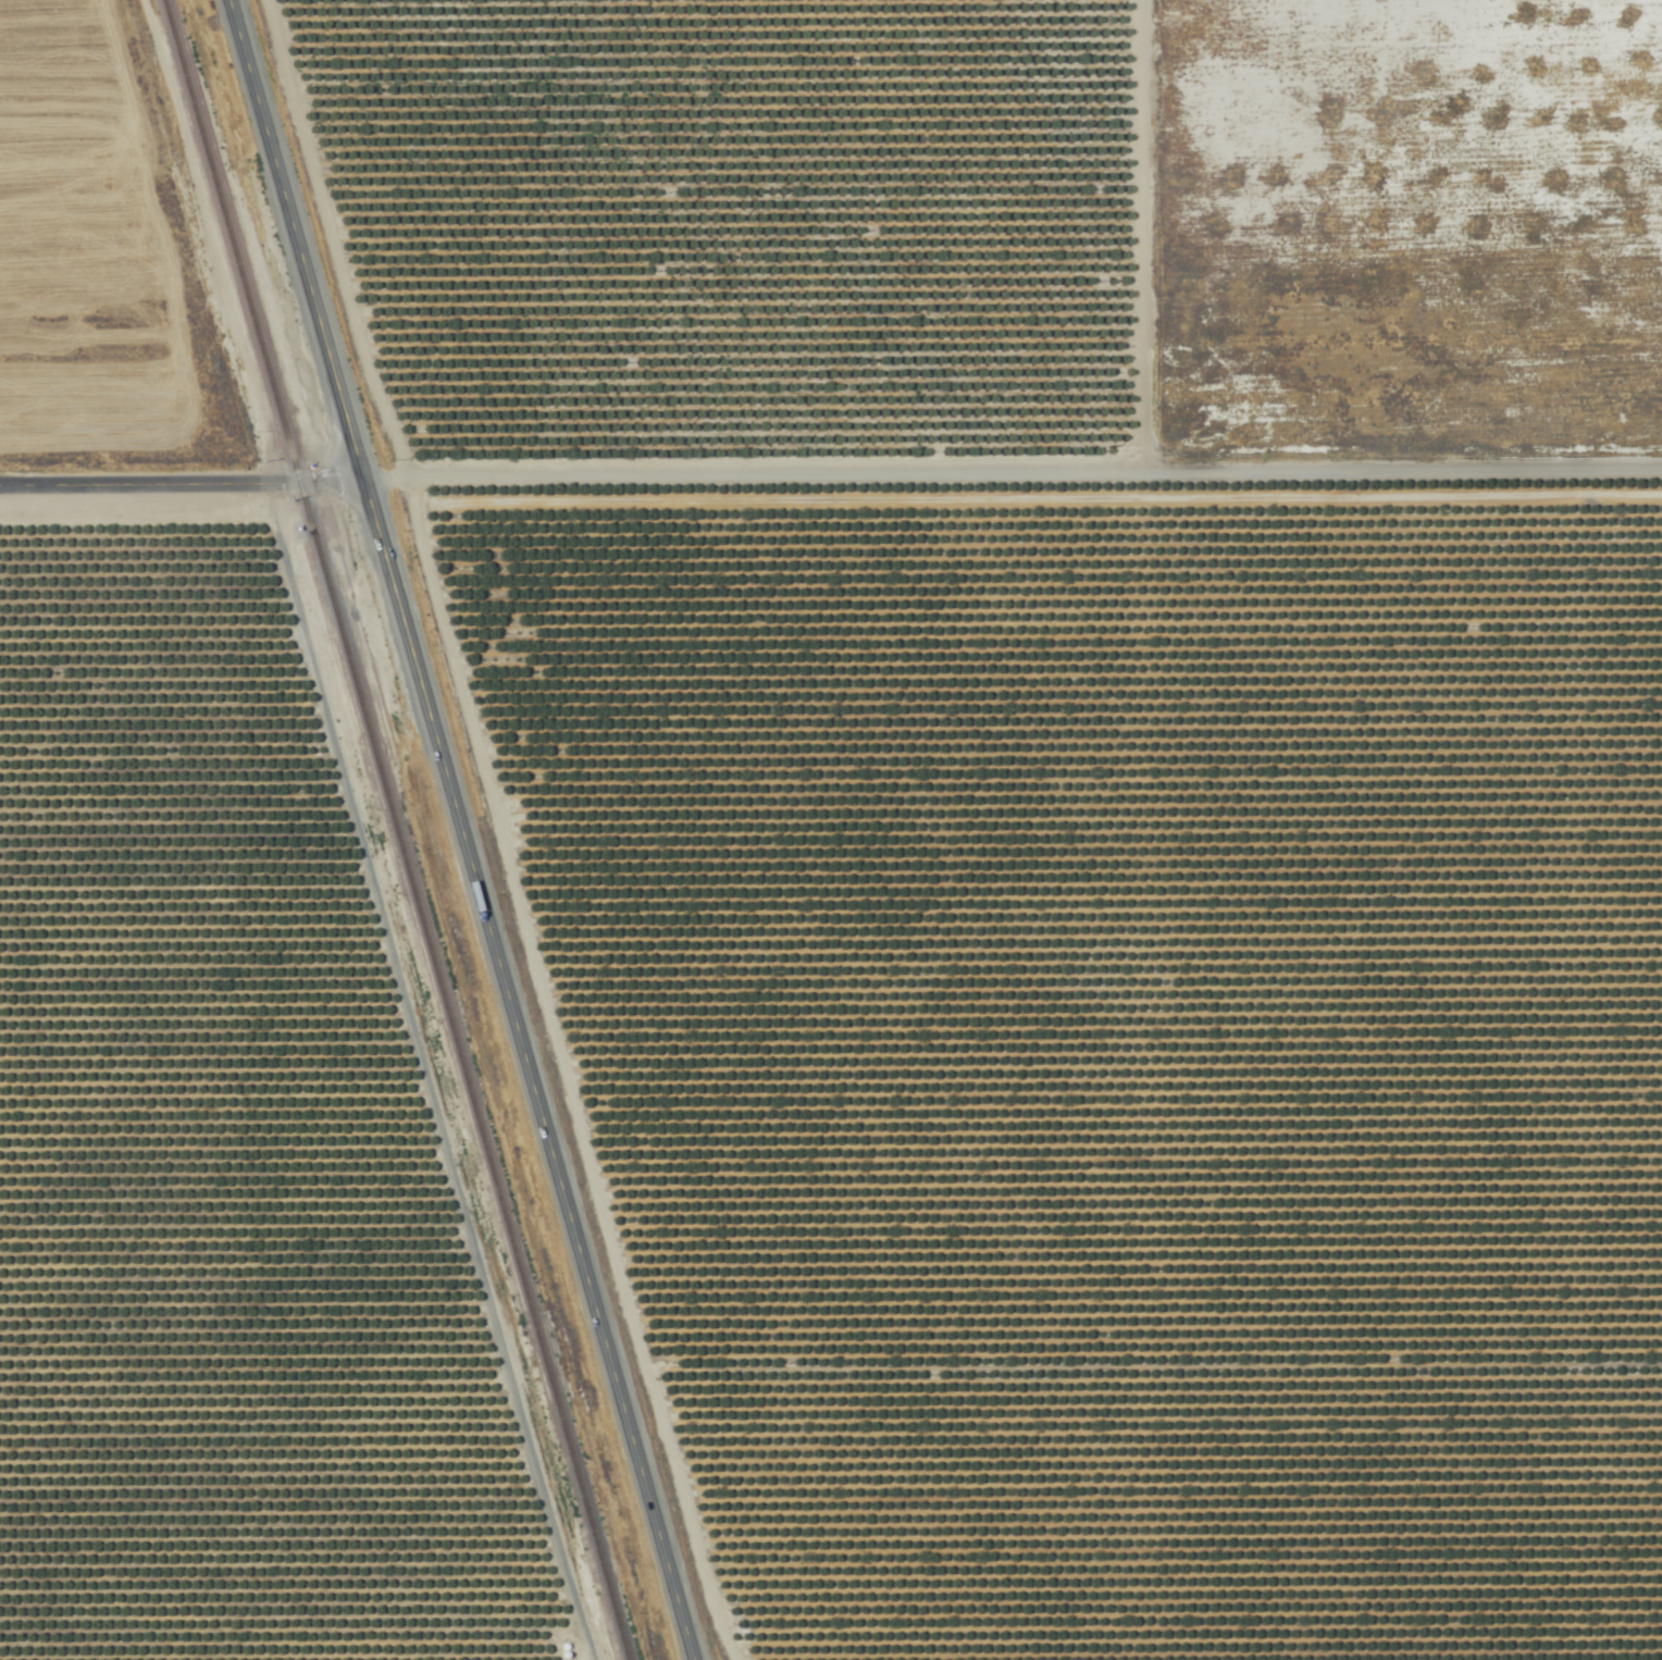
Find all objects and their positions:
road: (293, 239)
road: (1010, 480)
road: (179, 490)
wastewater plant: (503, 645)
railway: (392, 829)
crop: (817, 929)
road: (523, 1069)

